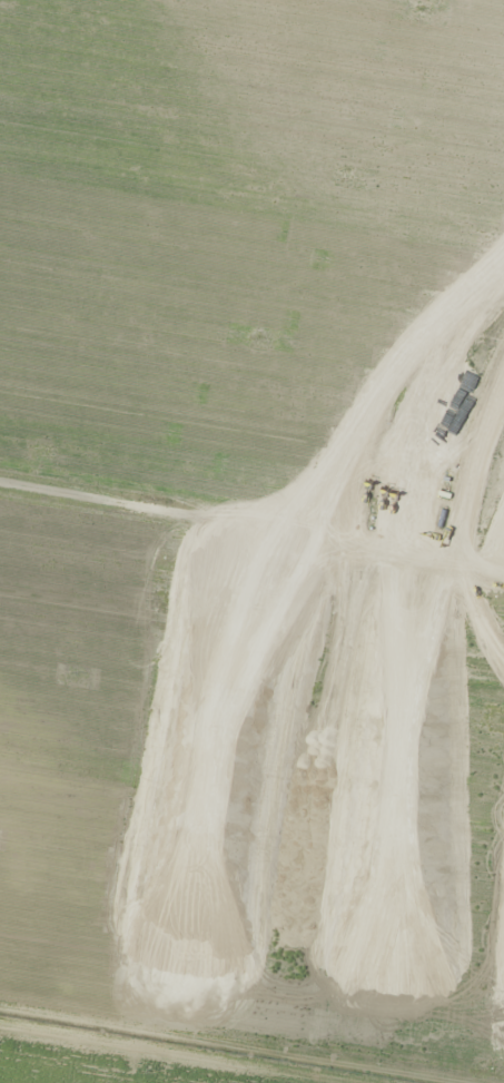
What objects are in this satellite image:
landfill: (397, 551)
road: (151, 1055)

